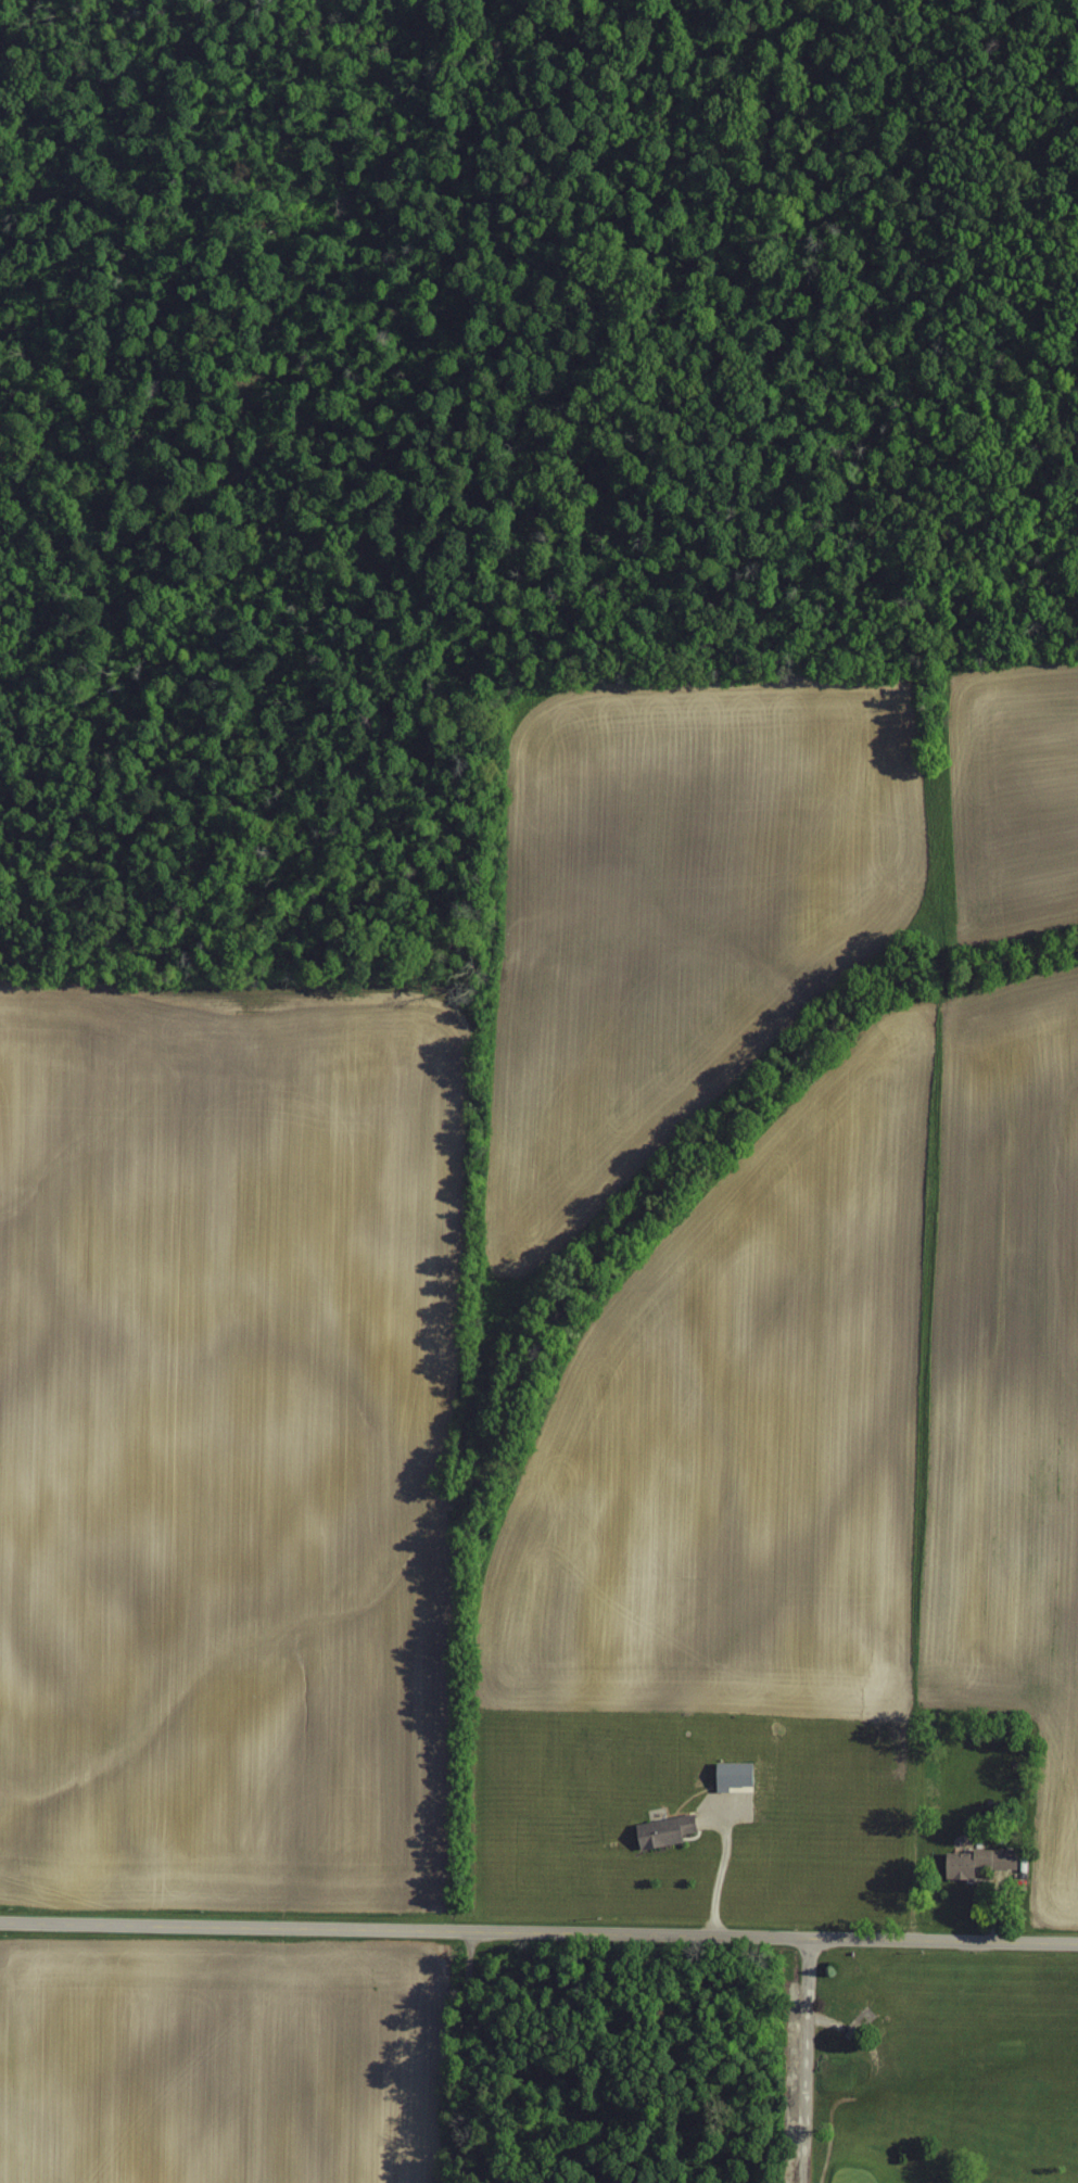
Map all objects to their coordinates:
road: (538, 1935)
road: (803, 2061)

